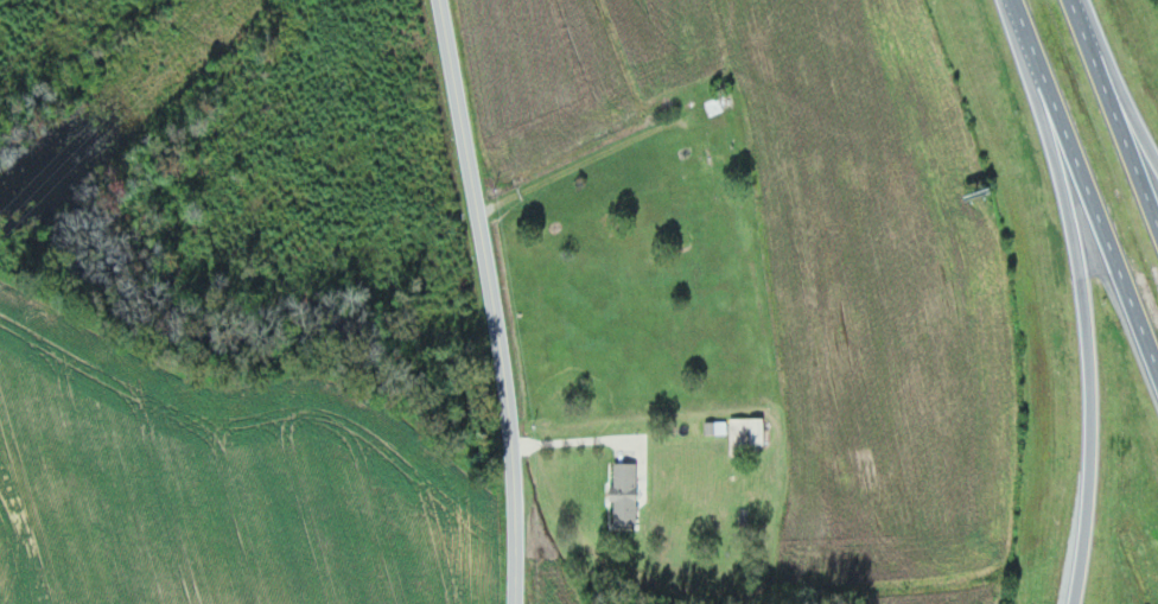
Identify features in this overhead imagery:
road: (1116, 106)
building: (721, 109)
road: (1135, 131)
road: (1086, 180)
road: (492, 300)
road: (1088, 316)
building: (718, 426)
building: (749, 432)
building: (628, 492)

